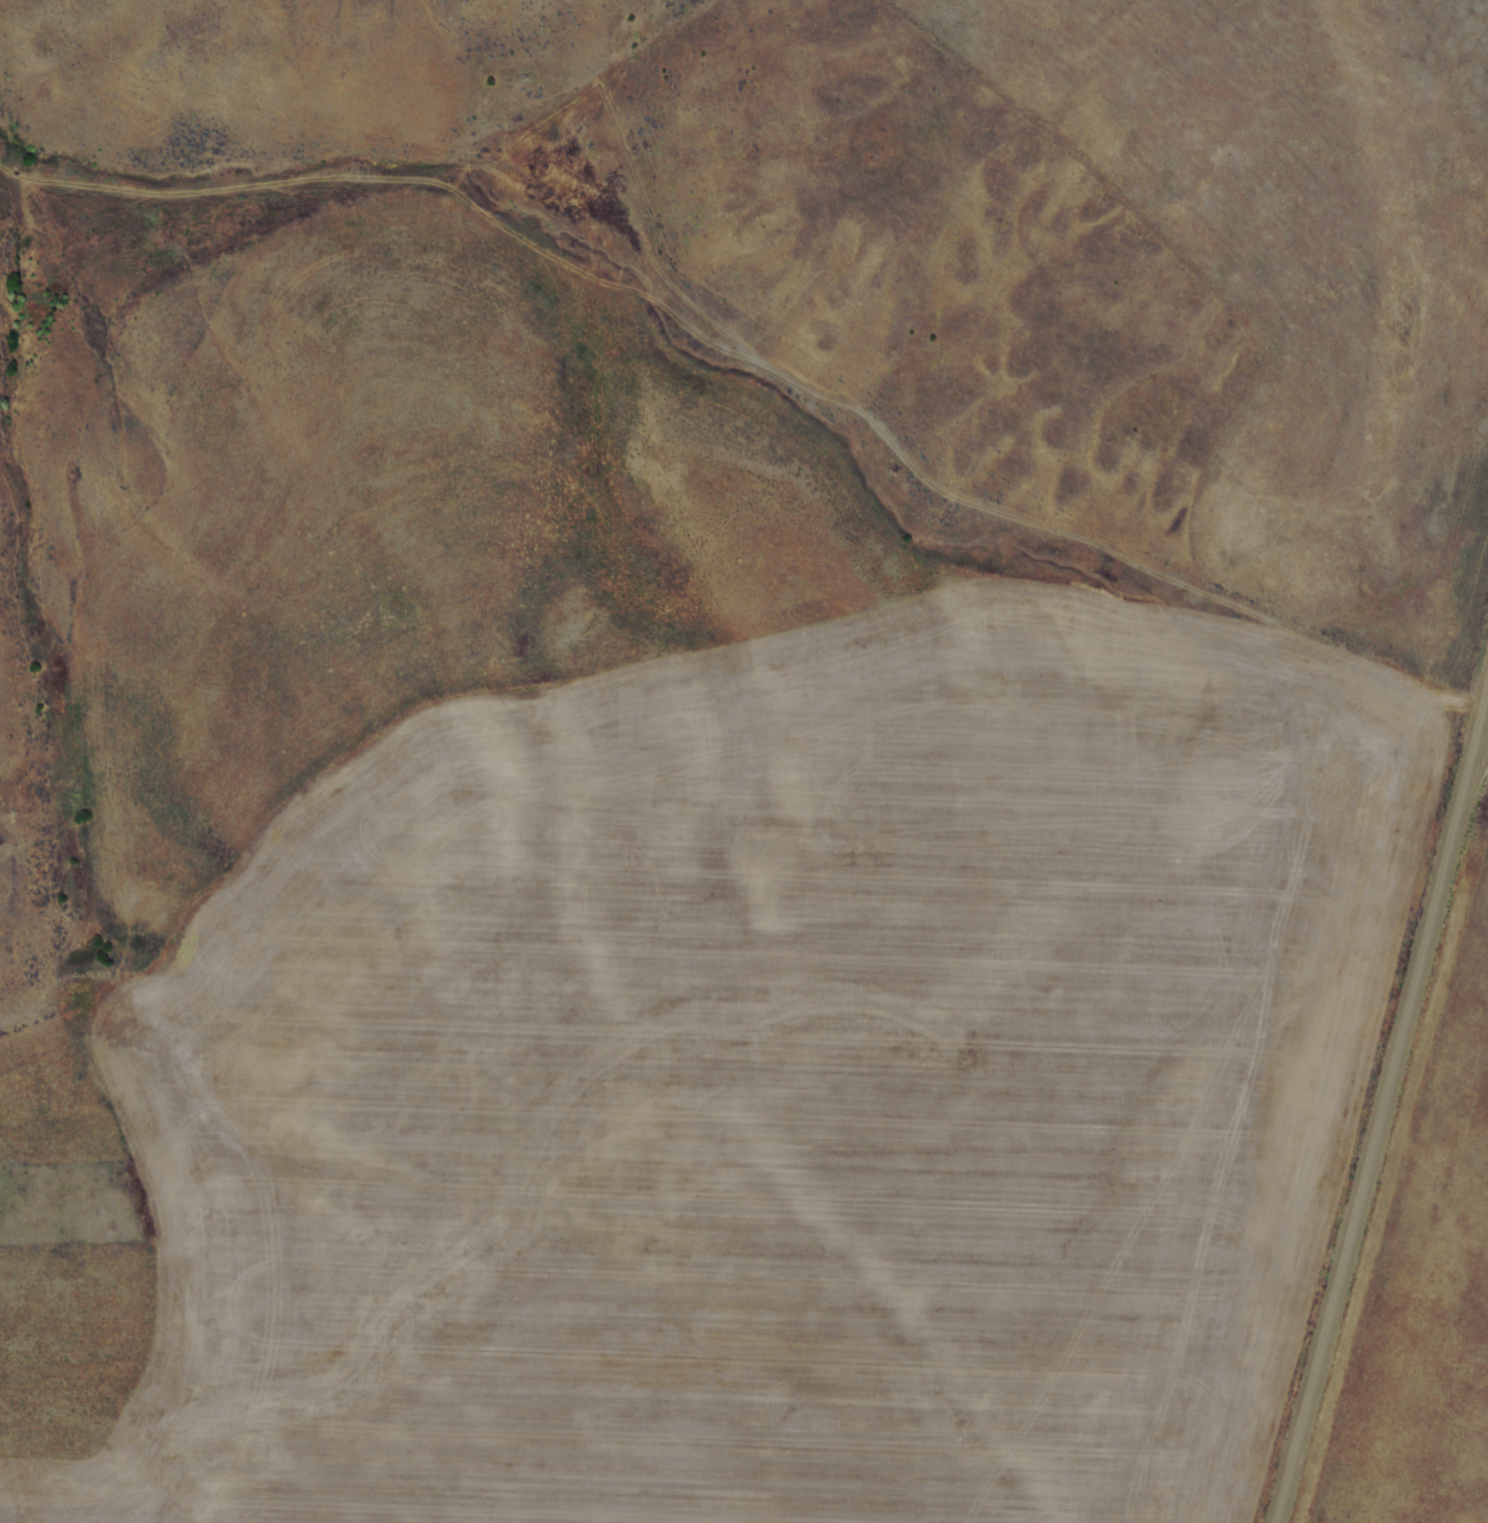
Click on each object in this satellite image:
road: (1482, 696)
road: (1376, 1122)

